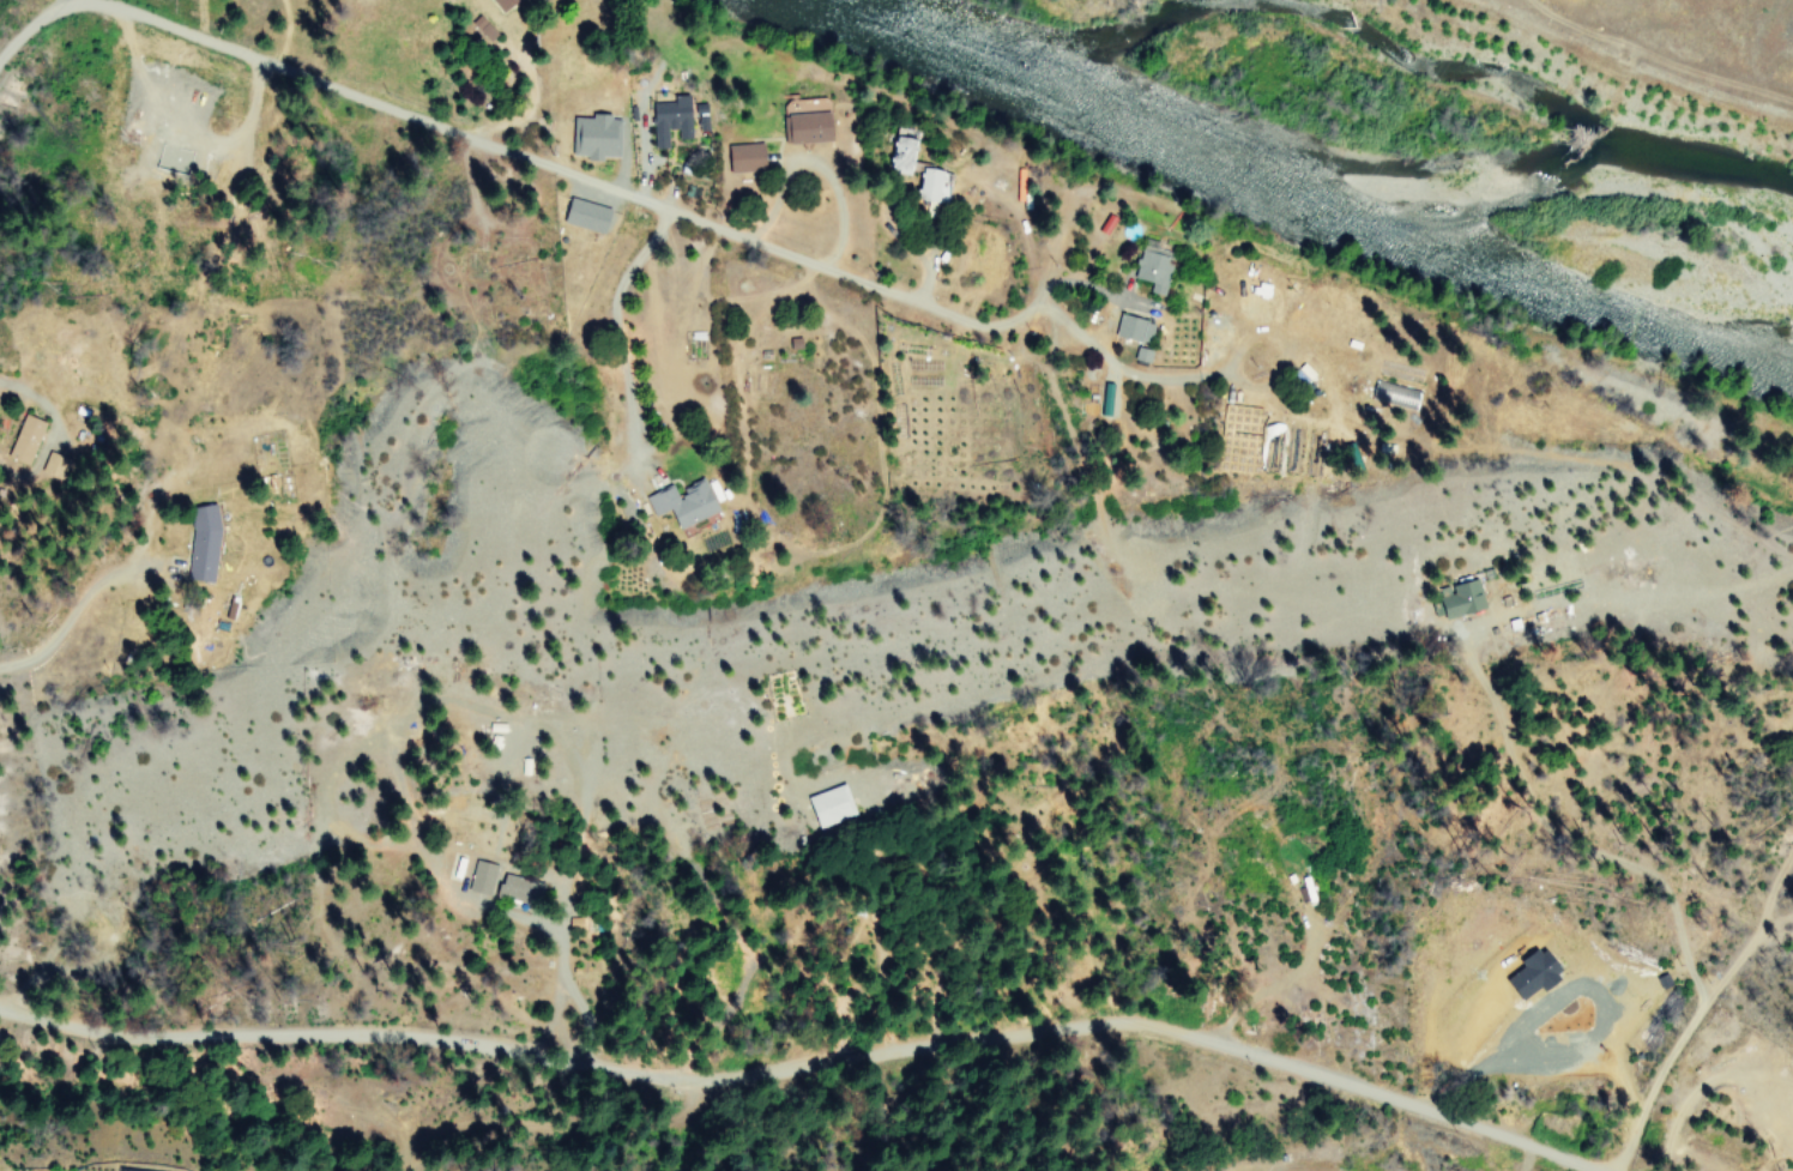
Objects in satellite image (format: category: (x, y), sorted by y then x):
building: (496, 2)
building: (668, 119)
building: (803, 120)
building: (592, 135)
building: (899, 149)
building: (741, 155)
road: (597, 182)
building: (929, 183)
river: (1317, 189)
building: (581, 213)
building: (1149, 266)
building: (1130, 328)
building: (1140, 354)
building: (1393, 394)
building: (22, 439)
building: (680, 503)
building: (199, 542)
building: (1456, 597)
building: (826, 804)
building: (479, 877)
building: (515, 888)
building: (1529, 972)
road: (1152, 983)
road: (767, 1080)
road: (1092, 1118)

